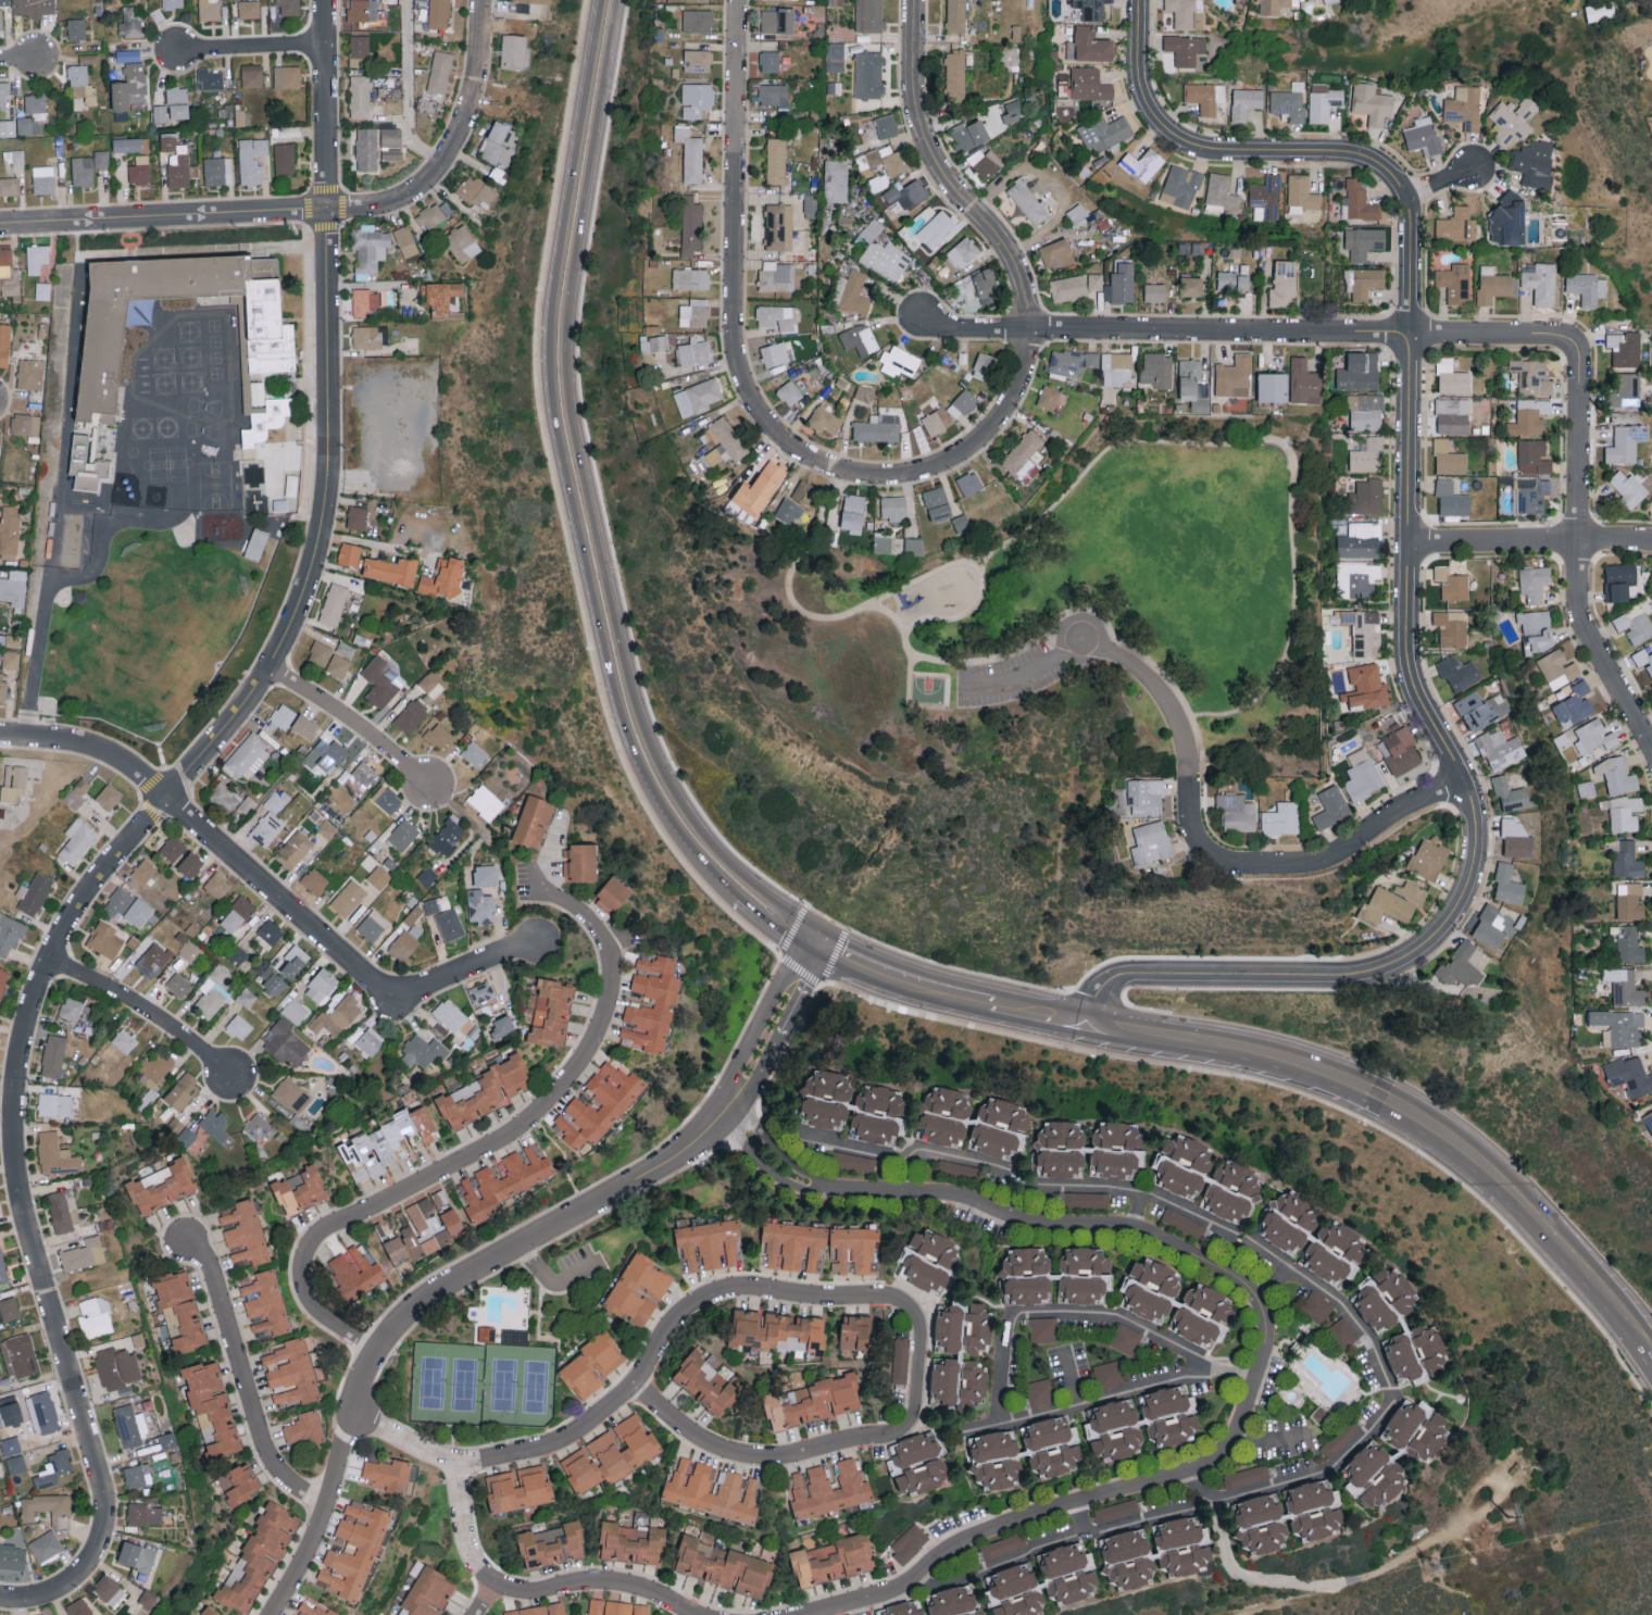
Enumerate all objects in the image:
building: (522, 0)
building: (1309, 0)
building: (4, 1)
building: (1329, 1)
building: (172, 3)
building: (1272, 5)
building: (288, 7)
building: (33, 8)
building: (249, 8)
building: (209, 9)
building: (1091, 9)
building: (362, 10)
building: (1601, 10)
building: (438, 13)
building: (1185, 14)
building: (869, 15)
building: (955, 15)
building: (1, 18)
building: (697, 20)
building: (778, 20)
building: (129, 23)
building: (76, 28)
building: (1089, 45)
building: (359, 48)
building: (1185, 48)
building: (514, 50)
road: (252, 51)
building: (835, 55)
building: (1010, 57)
road: (21, 60)
building: (769, 60)
building: (697, 61)
building: (440, 72)
building: (867, 74)
building: (955, 74)
building: (252, 75)
building: (287, 76)
building: (83, 78)
building: (211, 78)
building: (129, 80)
building: (1089, 84)
road: (401, 93)
building: (773, 93)
building: (4, 95)
building: (360, 96)
building: (1205, 96)
building: (697, 99)
building: (1324, 101)
building: (178, 102)
building: (1246, 102)
building: (1372, 102)
building: (426, 105)
building: (1464, 107)
building: (1013, 111)
building: (160, 113)
building: (39, 114)
building: (1513, 120)
building: (886, 125)
building: (8, 127)
building: (1104, 132)
building: (969, 134)
building: (1423, 134)
building: (390, 137)
building: (127, 143)
building: (499, 143)
road: (453, 147)
building: (366, 149)
building: (391, 153)
building: (690, 153)
building: (16, 158)
building: (284, 158)
building: (175, 159)
building: (251, 159)
building: (776, 160)
building: (893, 161)
building: (985, 162)
building: (1535, 162)
building: (1142, 163)
building: (88, 166)
building: (139, 170)
building: (217, 170)
building: (43, 179)
building: (836, 179)
building: (878, 181)
road: (1441, 183)
building: (9, 185)
building: (1181, 186)
building: (476, 191)
building: (1222, 193)
building: (1301, 193)
building: (906, 196)
building: (1266, 198)
building: (1027, 201)
building: (1357, 201)
building: (447, 208)
road: (162, 215)
building: (430, 215)
building: (1509, 218)
building: (690, 225)
building: (1456, 225)
building: (779, 226)
building: (939, 228)
building: (871, 229)
road: (997, 237)
building: (405, 240)
building: (462, 242)
building: (1364, 242)
building: (368, 248)
building: (963, 251)
building: (1057, 253)
building: (37, 256)
building: (5, 260)
building: (886, 260)
building: (777, 275)
building: (690, 278)
building: (1234, 278)
building: (1540, 280)
building: (1454, 281)
building: (1364, 283)
building: (1121, 284)
building: (1284, 284)
building: (1491, 284)
building: (986, 285)
building: (9, 286)
building: (1074, 286)
building: (1191, 286)
building: (1586, 287)
building: (42, 290)
building: (851, 291)
building: (1154, 291)
building: (442, 296)
building: (365, 301)
building: (694, 312)
building: (776, 316)
road: (734, 317)
road: (1253, 328)
building: (370, 336)
building: (859, 338)
building: (653, 342)
building: (4, 343)
building: (1624, 348)
building: (693, 352)
building: (774, 353)
building: (1072, 361)
building: (898, 362)
building: (983, 365)
building: (1116, 367)
building: (1157, 370)
building: (1359, 371)
building: (30, 372)
building: (1234, 376)
building: (1532, 376)
building: (1451, 377)
building: (1304, 381)
building: (1193, 385)
building: (1273, 386)
building: (1625, 390)
building: (789, 392)
building: (96, 395)
building: (697, 397)
building: (1050, 397)
road: (420, 399)
building: (962, 403)
building: (1365, 412)
building: (1532, 414)
building: (1452, 415)
building: (825, 420)
building: (934, 423)
building: (25, 424)
building: (877, 427)
building: (727, 440)
building: (0, 442)
building: (1625, 442)
road: (1227, 445)
building: (1367, 454)
building: (1534, 456)
building: (1449, 458)
building: (281, 483)
building: (969, 483)
building: (760, 488)
building: (1628, 488)
building: (1531, 494)
building: (1366, 496)
building: (1451, 499)
building: (937, 503)
building: (892, 508)
road: (583, 510)
building: (788, 510)
building: (853, 512)
building: (356, 517)
building: (961, 523)
building: (9, 530)
road: (1529, 537)
building: (1360, 540)
building: (883, 542)
road: (377, 544)
building: (913, 546)
building: (72, 547)
building: (255, 551)
building: (349, 553)
road: (1578, 561)
building: (390, 569)
road: (1406, 572)
building: (443, 577)
building: (1356, 578)
building: (1619, 580)
park: (1092, 583)
building: (1452, 583)
building: (1534, 583)
building: (14, 587)
building: (334, 604)
road: (827, 618)
building: (1635, 626)
building: (1451, 627)
building: (1537, 628)
building: (1364, 631)
building: (13, 640)
building: (320, 652)
building: (11, 659)
road: (39, 659)
building: (1643, 659)
building: (338, 665)
building: (1557, 668)
road: (1030, 672)
building: (1457, 672)
parking lot: (1010, 678)
building: (381, 680)
building: (431, 684)
building: (1366, 687)
building: (2, 688)
park: (929, 691)
building: (1575, 704)
building: (1481, 709)
building: (412, 714)
building: (281, 717)
road: (349, 721)
building: (305, 725)
building: (438, 736)
building: (1594, 736)
building: (1500, 748)
building: (1401, 750)
building: (474, 753)
building: (326, 755)
building: (248, 756)
building: (1616, 774)
building: (1362, 775)
building: (361, 777)
building: (13, 783)
building: (83, 785)
building: (1586, 788)
building: (1511, 793)
building: (109, 796)
building: (1144, 796)
building: (224, 797)
building: (74, 798)
building: (386, 798)
building: (276, 800)
building: (486, 801)
building: (247, 804)
building: (1331, 806)
road: (464, 812)
building: (1236, 812)
building: (1625, 813)
road: (151, 814)
building: (1280, 818)
building: (534, 821)
building: (266, 828)
building: (403, 834)
building: (77, 840)
building: (1515, 840)
building: (1151, 842)
building: (293, 849)
building: (182, 856)
road: (1212, 857)
building: (1428, 857)
building: (1626, 859)
building: (579, 862)
building: (143, 872)
building: (486, 875)
building: (379, 877)
building: (314, 880)
building: (1507, 884)
building: (217, 885)
road: (271, 889)
building: (34, 893)
building: (613, 894)
building: (348, 898)
building: (1629, 901)
building: (1393, 902)
building: (437, 904)
building: (480, 906)
building: (128, 907)
building: (237, 914)
building: (449, 924)
building: (373, 925)
building: (1492, 927)
building: (271, 931)
building: (10, 934)
building: (104, 939)
building: (403, 944)
building: (1629, 944)
traffic signals: (814, 950)
building: (152, 959)
building: (293, 962)
building: (1464, 965)
building: (3, 980)
building: (272, 980)
building: (177, 984)
building: (322, 986)
building: (1624, 986)
building: (480, 991)
building: (211, 997)
road: (948, 999)
building: (663, 1005)
building: (73, 1009)
building: (295, 1010)
road: (146, 1012)
building: (551, 1013)
building: (335, 1018)
building: (456, 1021)
building: (239, 1026)
building: (502, 1026)
building: (1618, 1026)
building: (124, 1040)
building: (371, 1041)
building: (286, 1042)
building: (423, 1051)
building: (53, 1055)
building: (155, 1065)
building: (1629, 1075)
building: (183, 1092)
building: (481, 1093)
building: (292, 1096)
building: (842, 1101)
building: (54, 1104)
building: (598, 1106)
road: (1414, 1115)
building: (944, 1116)
building: (1649, 1119)
building: (215, 1124)
building: (260, 1127)
building: (876, 1128)
building: (186, 1136)
building: (385, 1143)
road: (490, 1148)
building: (1089, 1149)
road: (867, 1151)
building: (55, 1154)
road: (949, 1154)
building: (853, 1161)
building: (505, 1181)
building: (161, 1186)
road: (1087, 1188)
building: (300, 1190)
building: (1087, 1199)
building: (63, 1211)
building: (1298, 1212)
building: (1184, 1223)
building: (245, 1231)
building: (424, 1232)
building: (1282, 1234)
building: (1342, 1242)
building: (710, 1243)
building: (793, 1244)
building: (853, 1248)
building: (83, 1254)
road: (509, 1254)
building: (929, 1257)
building: (1326, 1263)
building: (2, 1267)
parking lot: (576, 1269)
building: (355, 1272)
building: (1085, 1273)
building: (1027, 1274)
road: (552, 1288)
building: (638, 1288)
building: (1385, 1299)
building: (1175, 1300)
building: (266, 1301)
building: (1315, 1305)
building: (182, 1307)
road: (1253, 1307)
building: (9, 1309)
building: (95, 1314)
road: (1062, 1314)
building: (171, 1320)
building: (951, 1326)
building: (977, 1326)
building: (1042, 1328)
building: (776, 1329)
building: (855, 1330)
building: (1342, 1331)
building: (487, 1332)
road: (1369, 1337)
building: (1126, 1338)
building: (1416, 1353)
building: (18, 1354)
building: (900, 1360)
building: (592, 1363)
building: (117, 1367)
building: (291, 1370)
building: (1109, 1373)
building: (974, 1379)
building: (705, 1380)
road: (249, 1385)
park: (480, 1385)
building: (1039, 1391)
road: (1110, 1392)
road: (626, 1398)
building: (812, 1400)
building: (213, 1404)
building: (45, 1411)
building: (1141, 1420)
building: (130, 1425)
building: (304, 1427)
building: (1416, 1428)
road: (1271, 1440)
building: (1053, 1443)
building: (10, 1445)
building: (913, 1449)
road: (835, 1452)
building: (611, 1453)
building: (994, 1457)
building: (15, 1463)
building: (53, 1467)
power substation: (1511, 1472)
building: (388, 1474)
building: (1375, 1474)
building: (138, 1475)
building: (1246, 1476)
building: (239, 1481)
building: (686, 1485)
building: (518, 1487)
power tower: (1487, 1487)
building: (828, 1488)
building: (48, 1507)
building: (1115, 1510)
building: (145, 1513)
building: (1289, 1514)
power tower: (1510, 1518)
road: (1080, 1523)
building: (633, 1542)
building: (909, 1542)
building: (551, 1543)
road: (1053, 1543)
building: (46, 1544)
building: (1003, 1545)
building: (366, 1550)
building: (1156, 1551)
building: (137, 1554)
building: (12, 1555)
building: (258, 1556)
building: (831, 1560)
building: (724, 1565)
power tower: (1434, 1568)
building: (1042, 1580)
building: (109, 1589)
building: (427, 1592)
road: (16, 1599)
building: (148, 1599)
road: (518, 1601)
building: (939, 1603)
road: (481, 1604)
building: (78, 1607)
building: (616, 1607)
building: (313, 1610)
building: (538, 1610)
building: (208, 1612)
building: (50, 1614)

